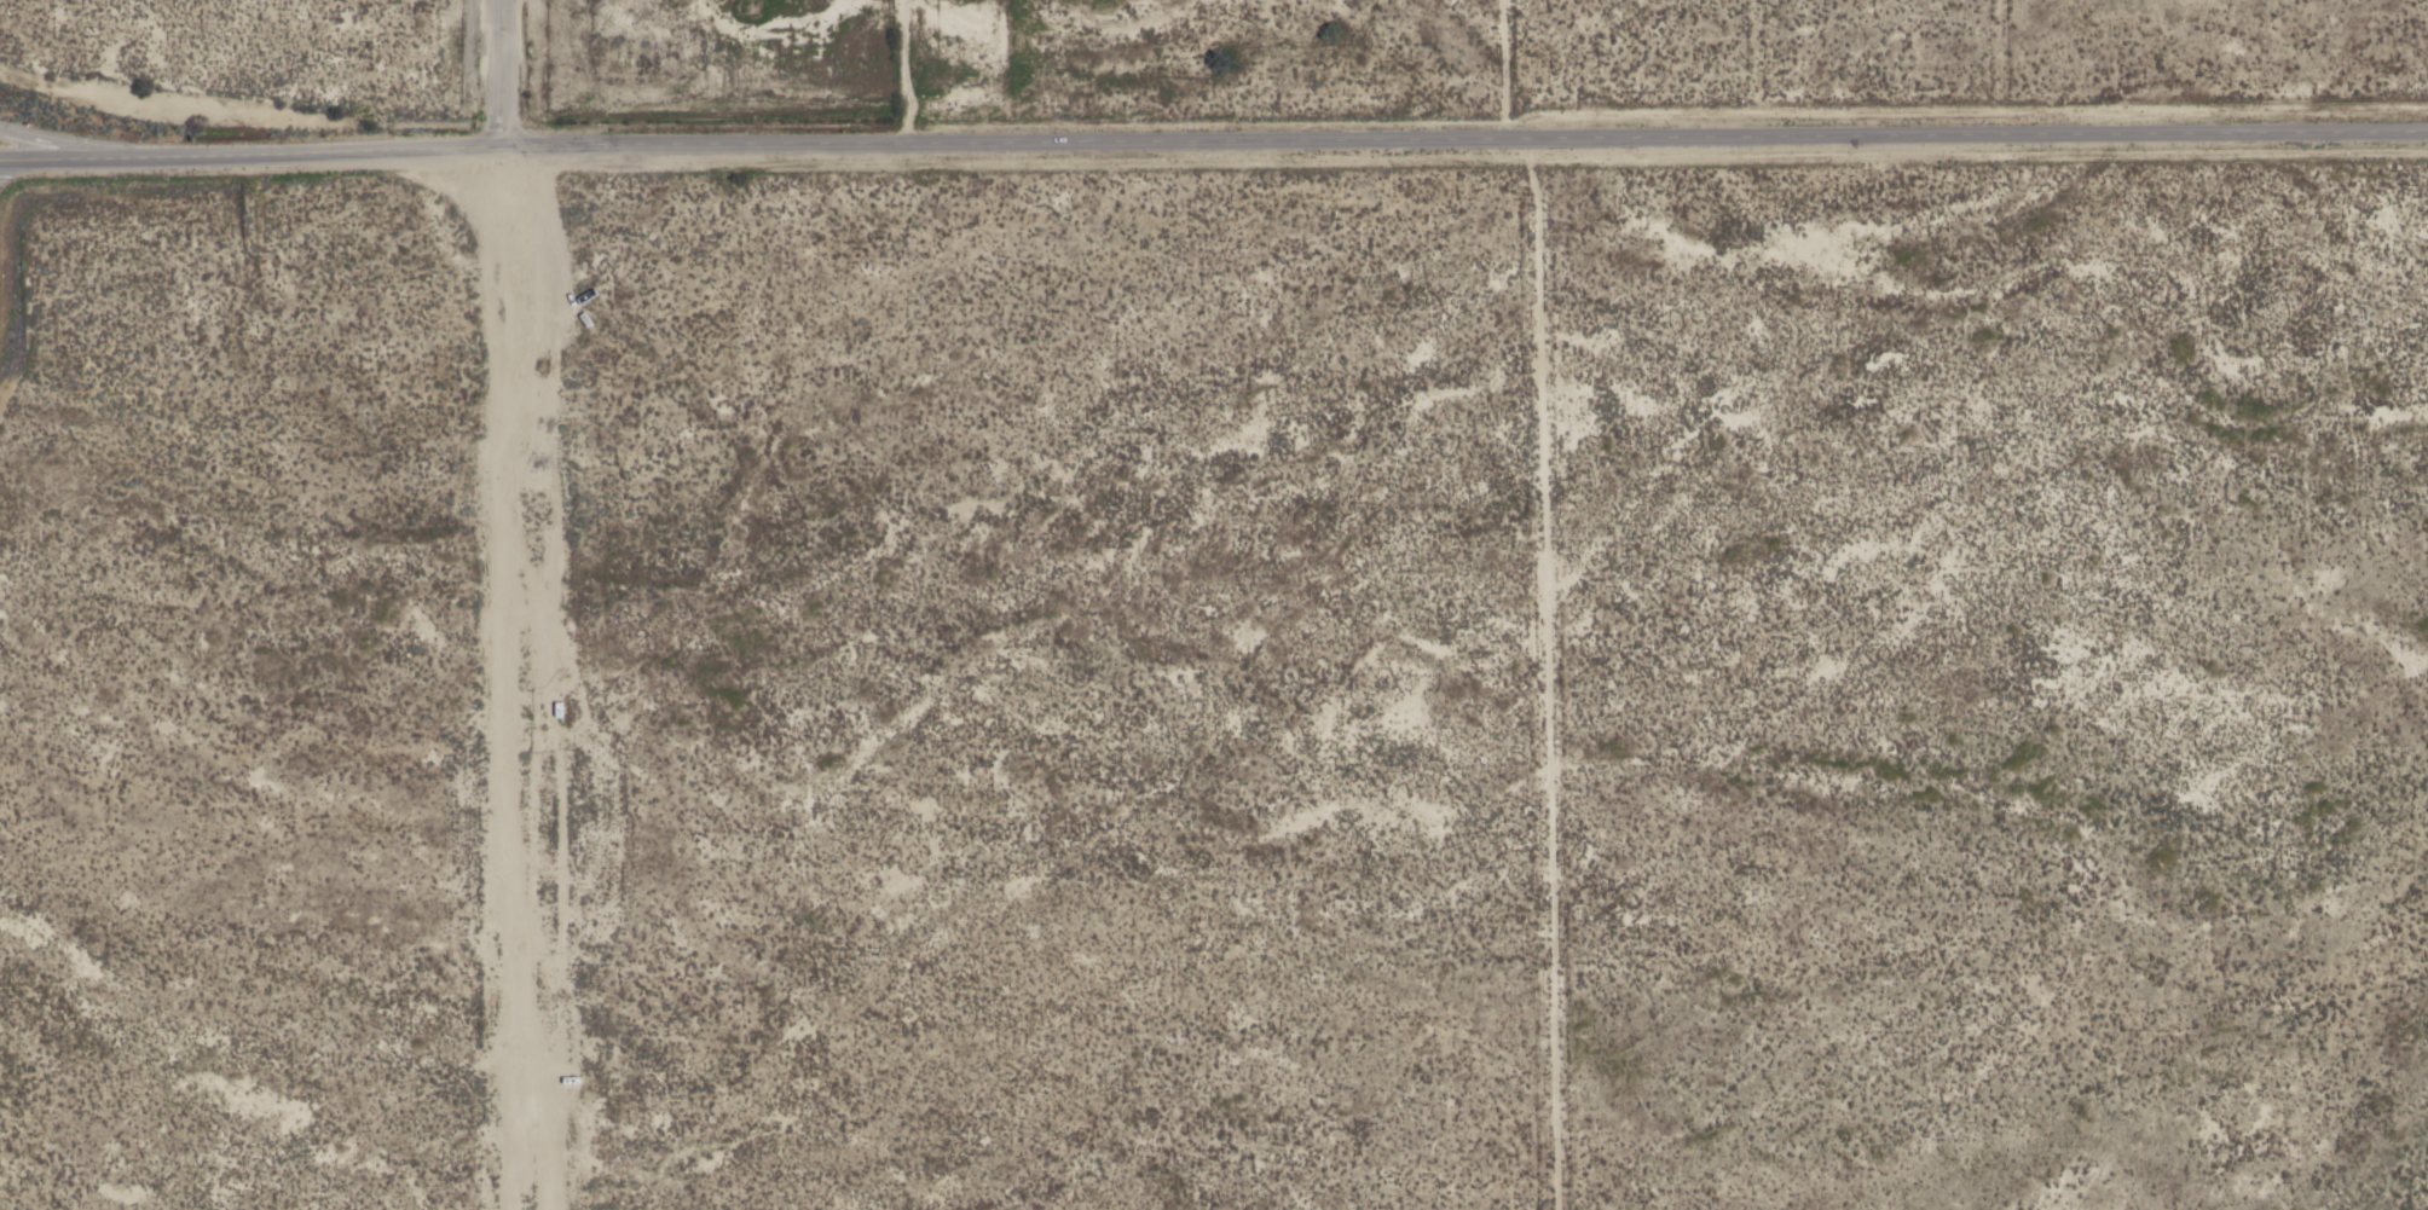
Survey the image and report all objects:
road: (489, 70)
road: (67, 138)
road: (1458, 146)
road: (244, 149)
road: (504, 675)

